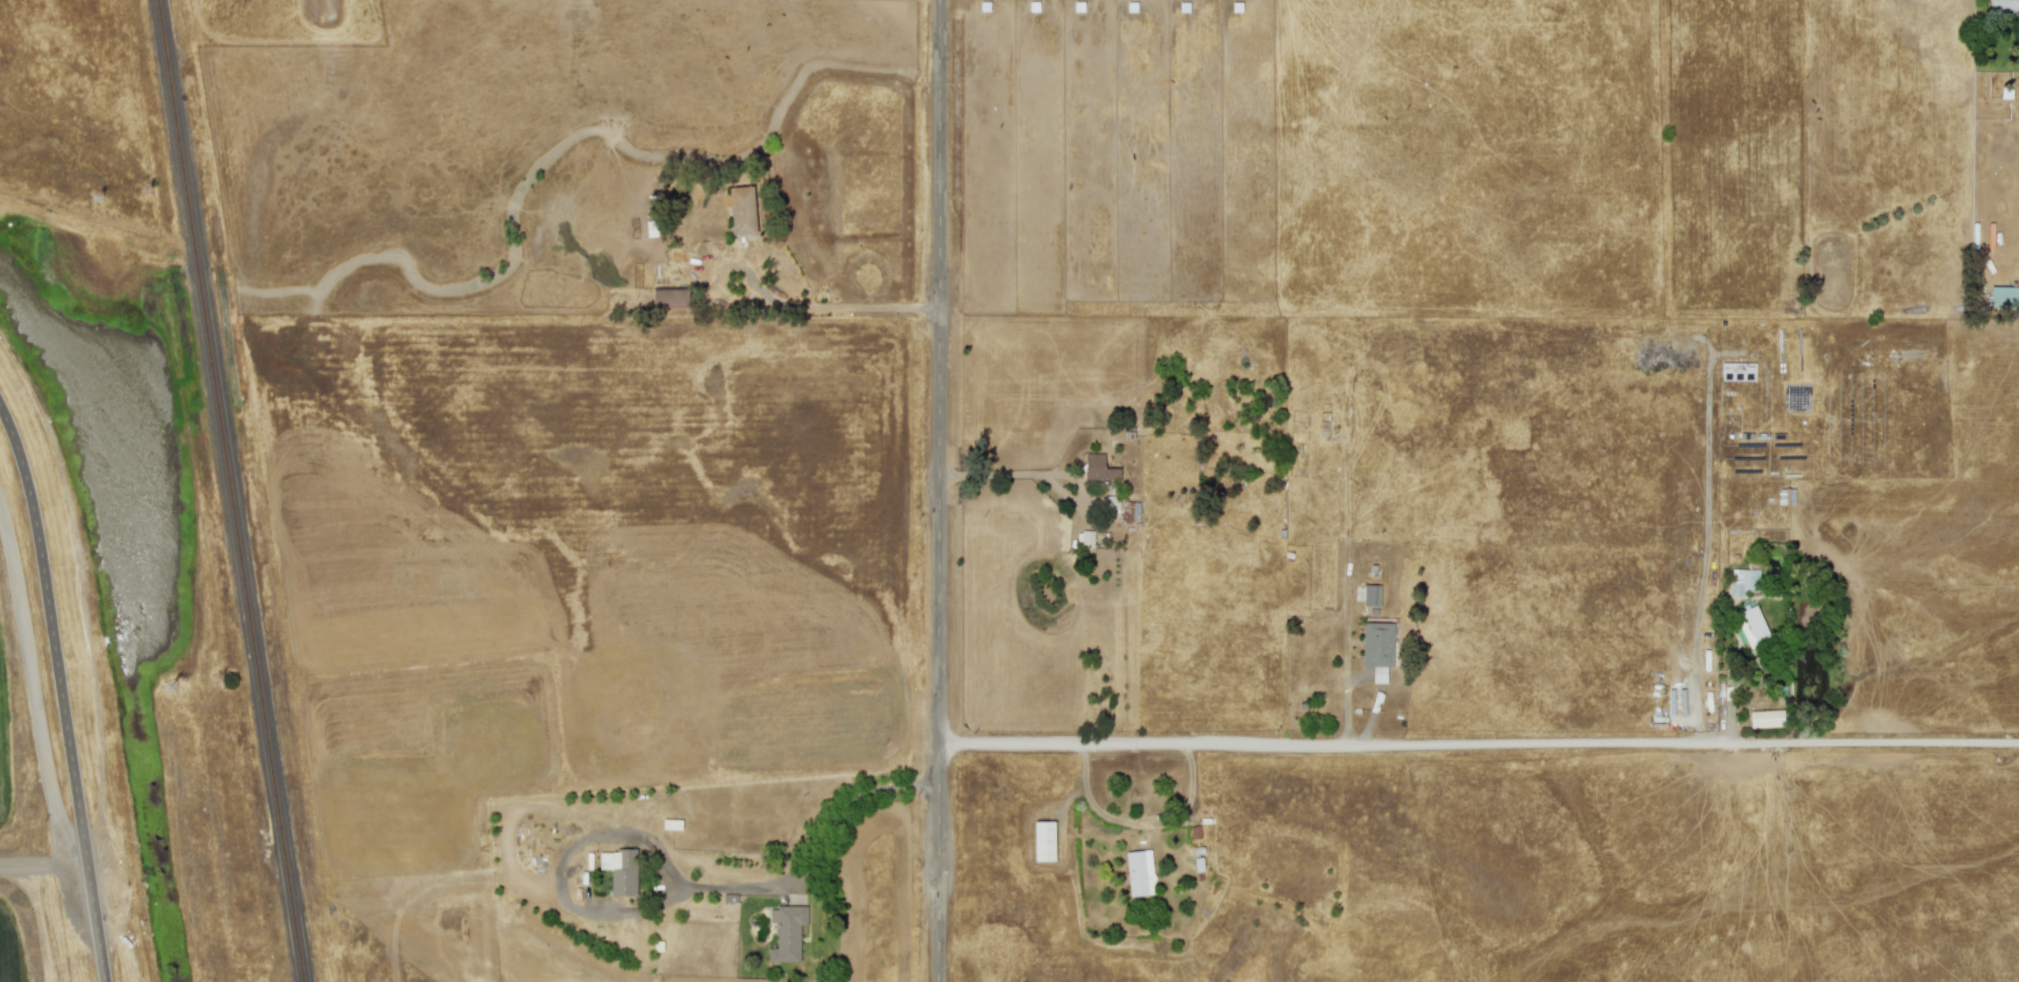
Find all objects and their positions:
building: (2003, 7)
power tower: (150, 192)
power tower: (103, 197)
building: (742, 211)
building: (2004, 296)
building: (668, 298)
road: (835, 307)
road: (1919, 325)
building: (1098, 468)
road: (1010, 475)
railway: (231, 491)
road: (941, 491)
building: (1111, 502)
building: (1129, 511)
building: (1086, 539)
road: (1704, 550)
building: (1742, 581)
building: (1371, 595)
building: (1749, 627)
building: (1377, 648)
road: (31, 679)
power tower: (222, 679)
power tower: (176, 687)
road: (60, 693)
building: (1766, 719)
road: (1479, 745)
road: (1140, 825)
building: (1043, 841)
road: (42, 854)
road: (819, 854)
building: (619, 871)
building: (1139, 873)
building: (786, 932)

